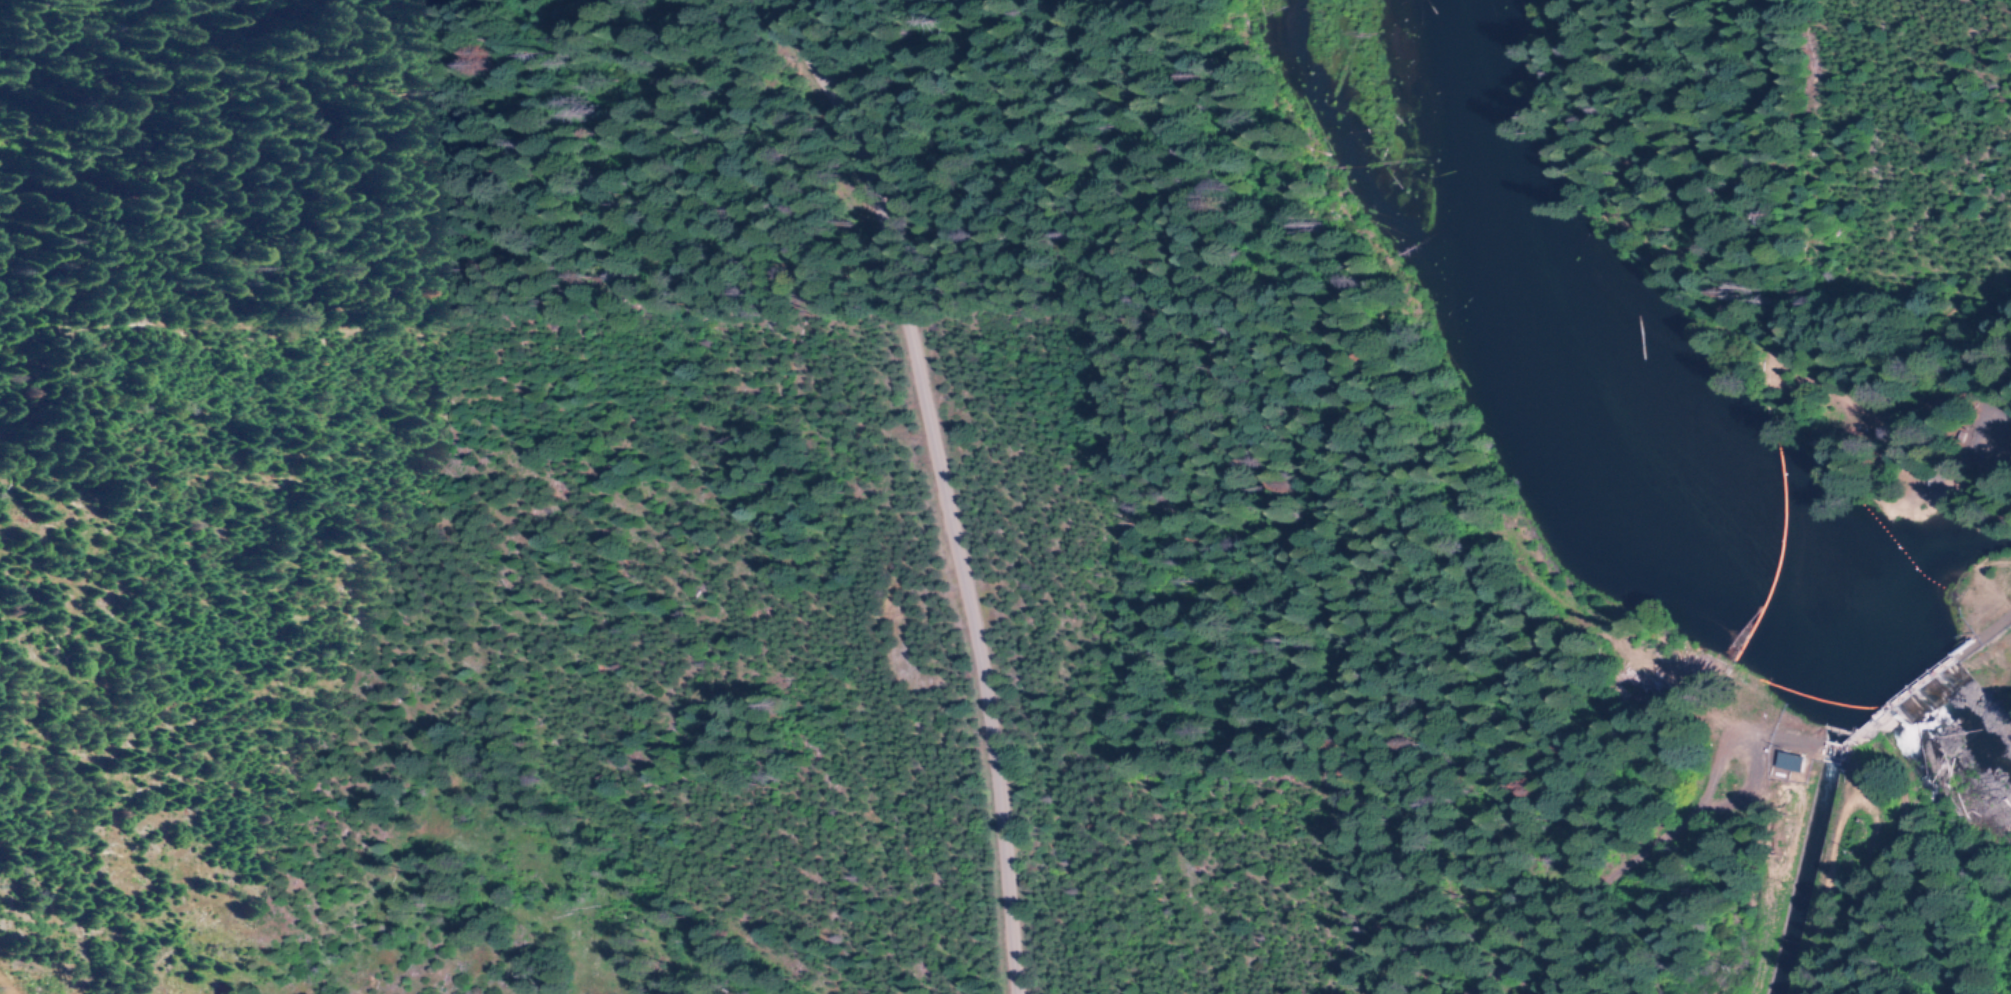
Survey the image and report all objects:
river: (1647, 440)
road: (943, 485)
dam: (1907, 691)

